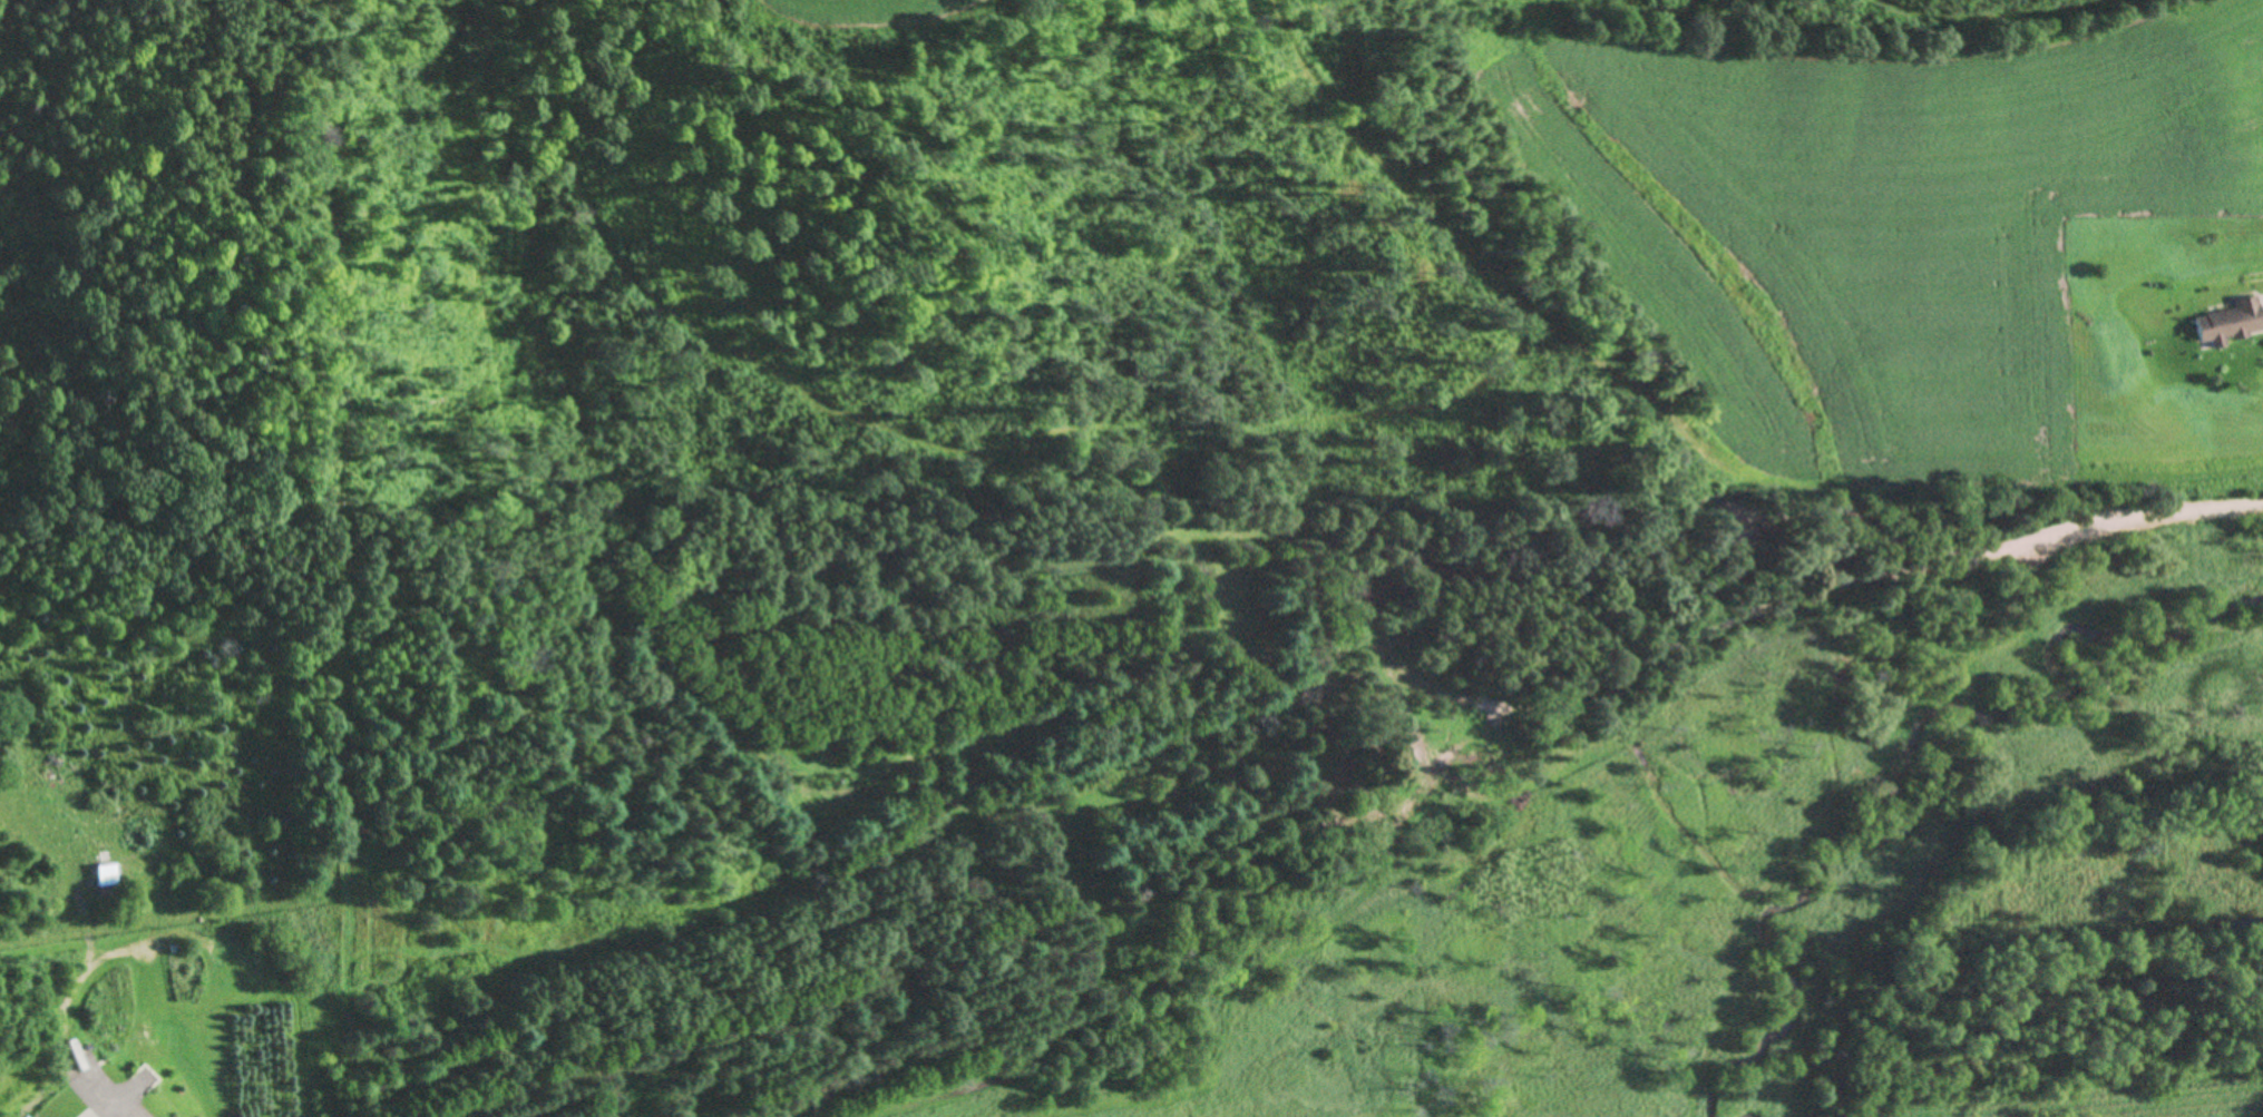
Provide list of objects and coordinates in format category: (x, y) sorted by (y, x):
crop: (872, 9)
building: (2231, 320)
building: (279, 927)
road: (100, 961)
road: (109, 1095)

